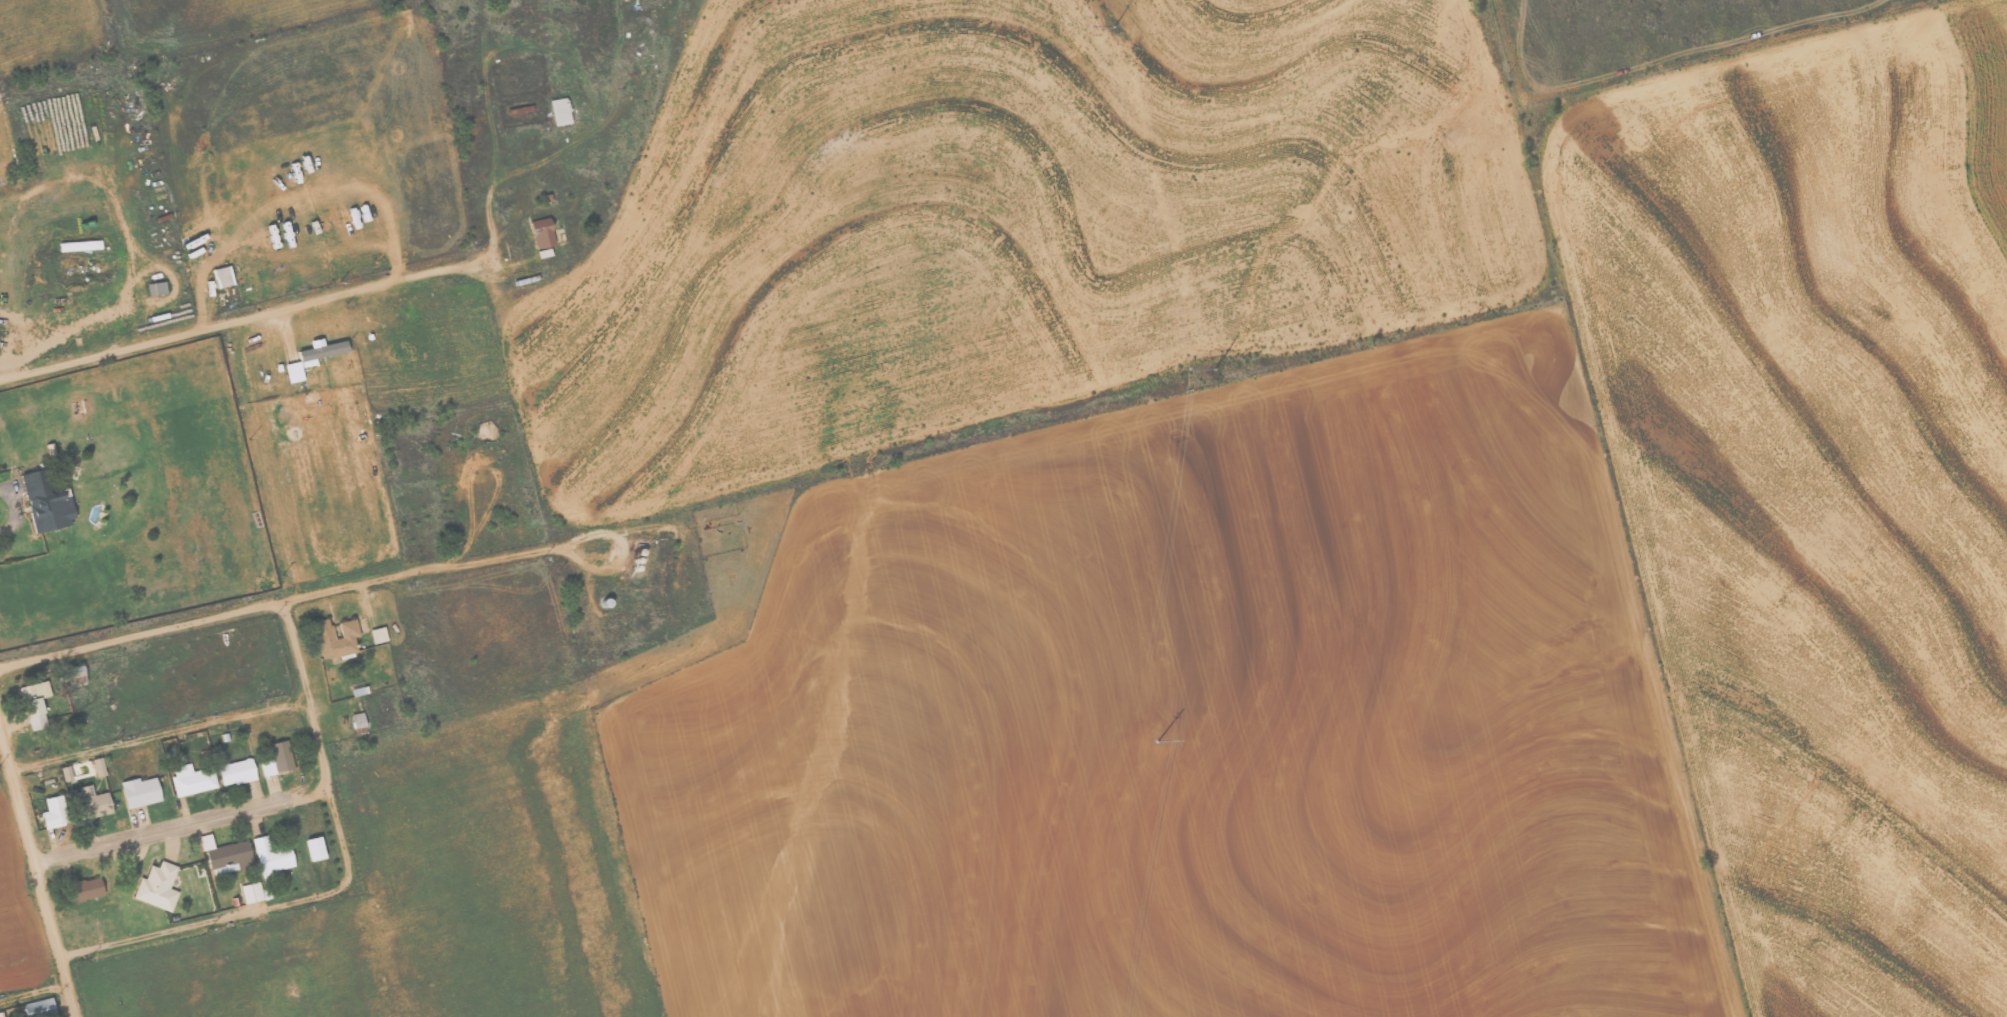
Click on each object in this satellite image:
power tower: (1115, 31)
building: (559, 111)
building: (542, 234)
building: (78, 245)
building: (221, 277)
building: (156, 288)
road: (243, 321)
building: (320, 349)
building: (292, 371)
power tower: (1212, 377)
building: (44, 503)
road: (276, 604)
building: (377, 635)
building: (333, 638)
building: (75, 676)
building: (34, 704)
building: (357, 723)
road: (160, 734)
power tower: (1156, 748)
building: (276, 759)
building: (97, 767)
building: (235, 772)
building: (65, 773)
building: (191, 780)
building: (139, 792)
building: (89, 805)
building: (53, 812)
road: (181, 826)
building: (313, 849)
building: (270, 855)
building: (229, 856)
road: (35, 868)
road: (342, 886)
building: (157, 887)
building: (85, 890)
building: (250, 892)
road: (33, 995)
building: (39, 1008)

